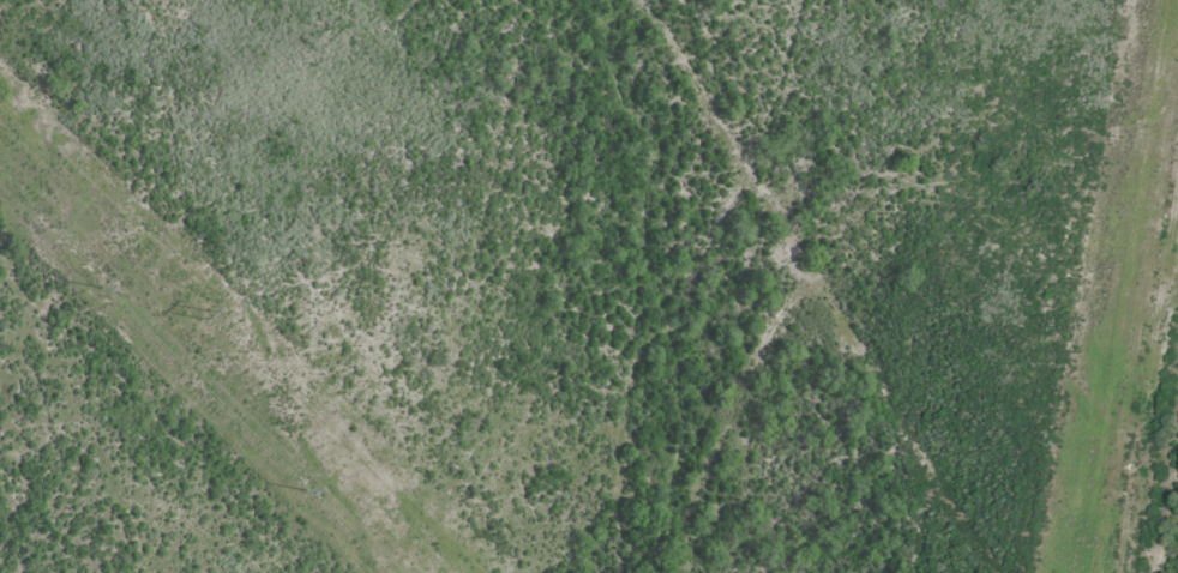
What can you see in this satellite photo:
power tower: (103, 291)
power tower: (204, 314)
power tower: (305, 493)

